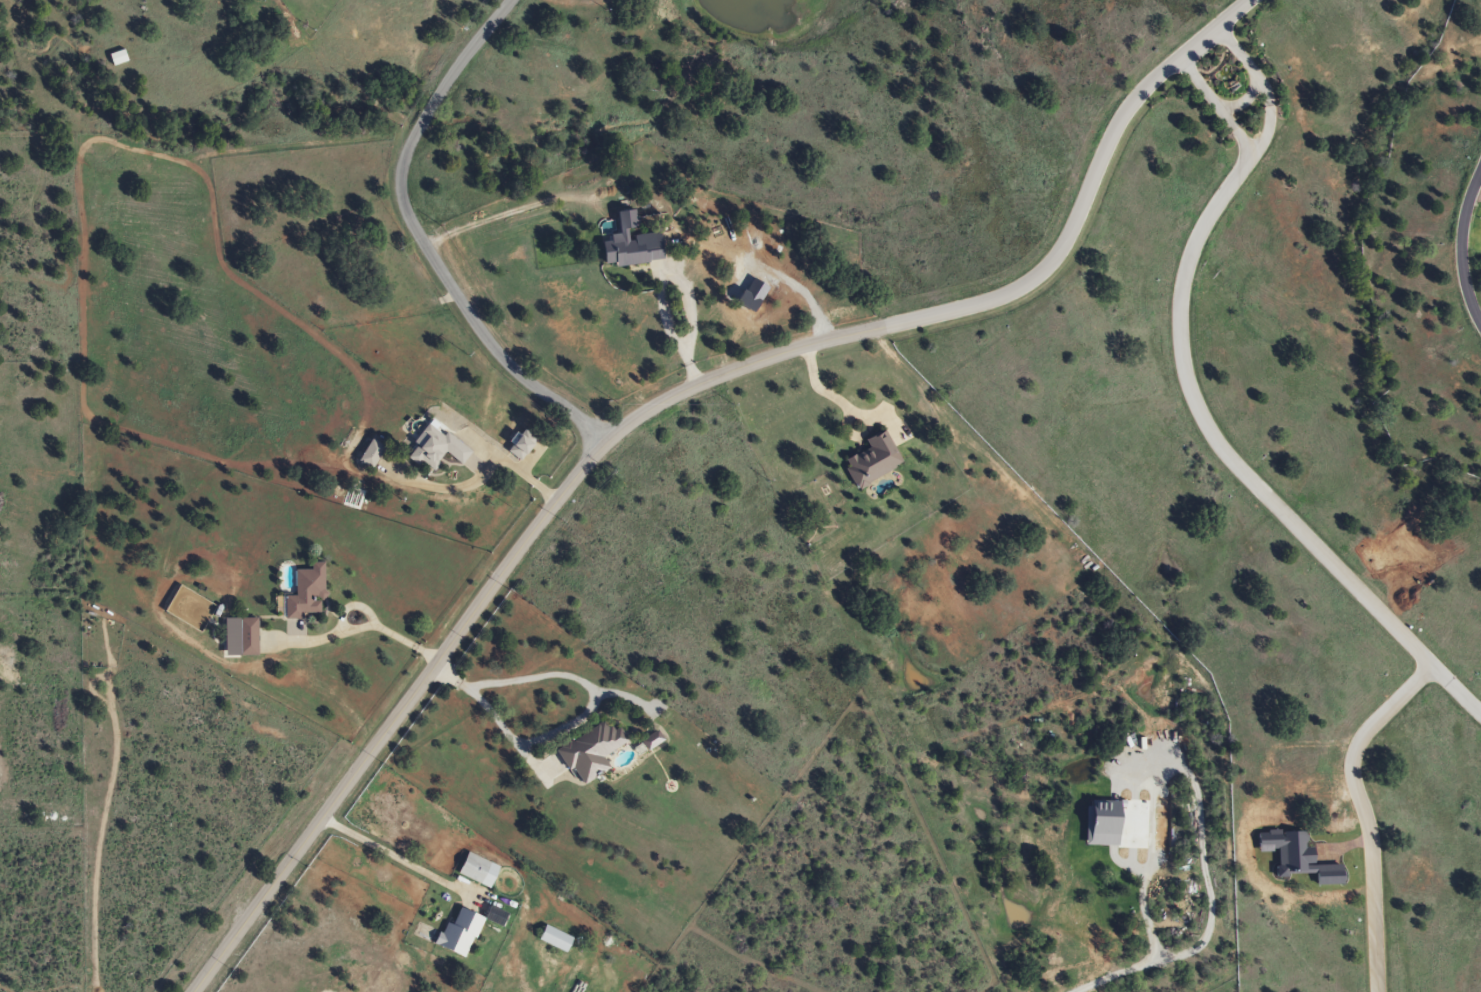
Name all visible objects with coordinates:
road: (941, 2)
road: (927, 16)
road: (927, 16)
parking lot: (1165, 20)
building: (114, 58)
road: (1051, 87)
park: (922, 126)
road: (1263, 136)
road: (855, 165)
road: (420, 239)
building: (627, 245)
road: (1460, 248)
road: (677, 280)
road: (789, 349)
building: (515, 447)
building: (434, 449)
building: (368, 454)
road: (1234, 460)
building: (870, 461)
road: (478, 473)
building: (302, 594)
building: (243, 637)
building: (590, 751)
road: (1363, 810)
building: (476, 870)
road: (278, 881)
building: (448, 933)
building: (552, 938)

